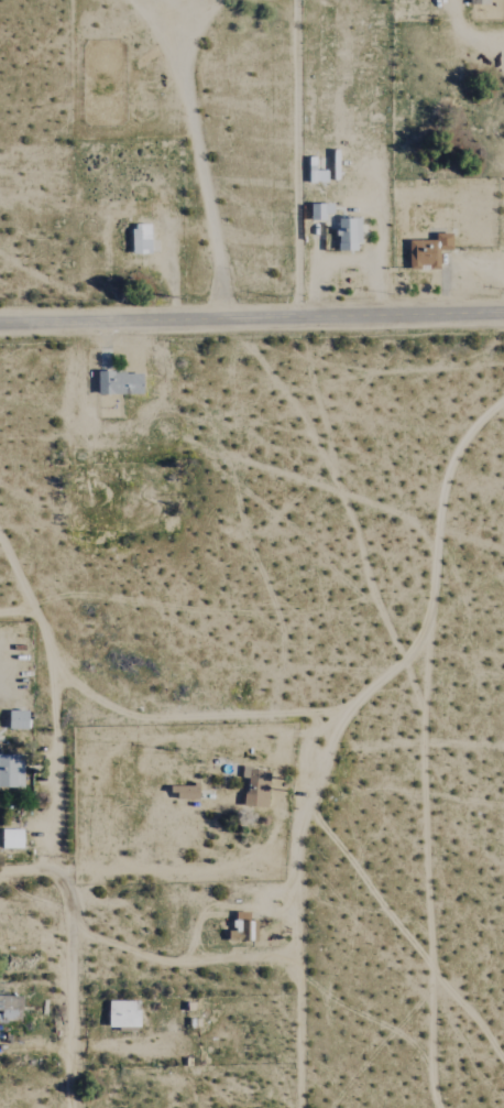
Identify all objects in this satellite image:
building: (480, 1)
road: (299, 159)
road: (210, 170)
building: (335, 228)
building: (141, 239)
building: (429, 250)
road: (230, 293)
road: (251, 317)
building: (120, 383)
road: (436, 568)
road: (116, 719)
building: (18, 720)
building: (12, 772)
building: (259, 789)
building: (184, 793)
building: (12, 839)
road: (25, 871)
road: (302, 905)
road: (68, 912)
building: (243, 928)
building: (11, 1008)
building: (124, 1014)

